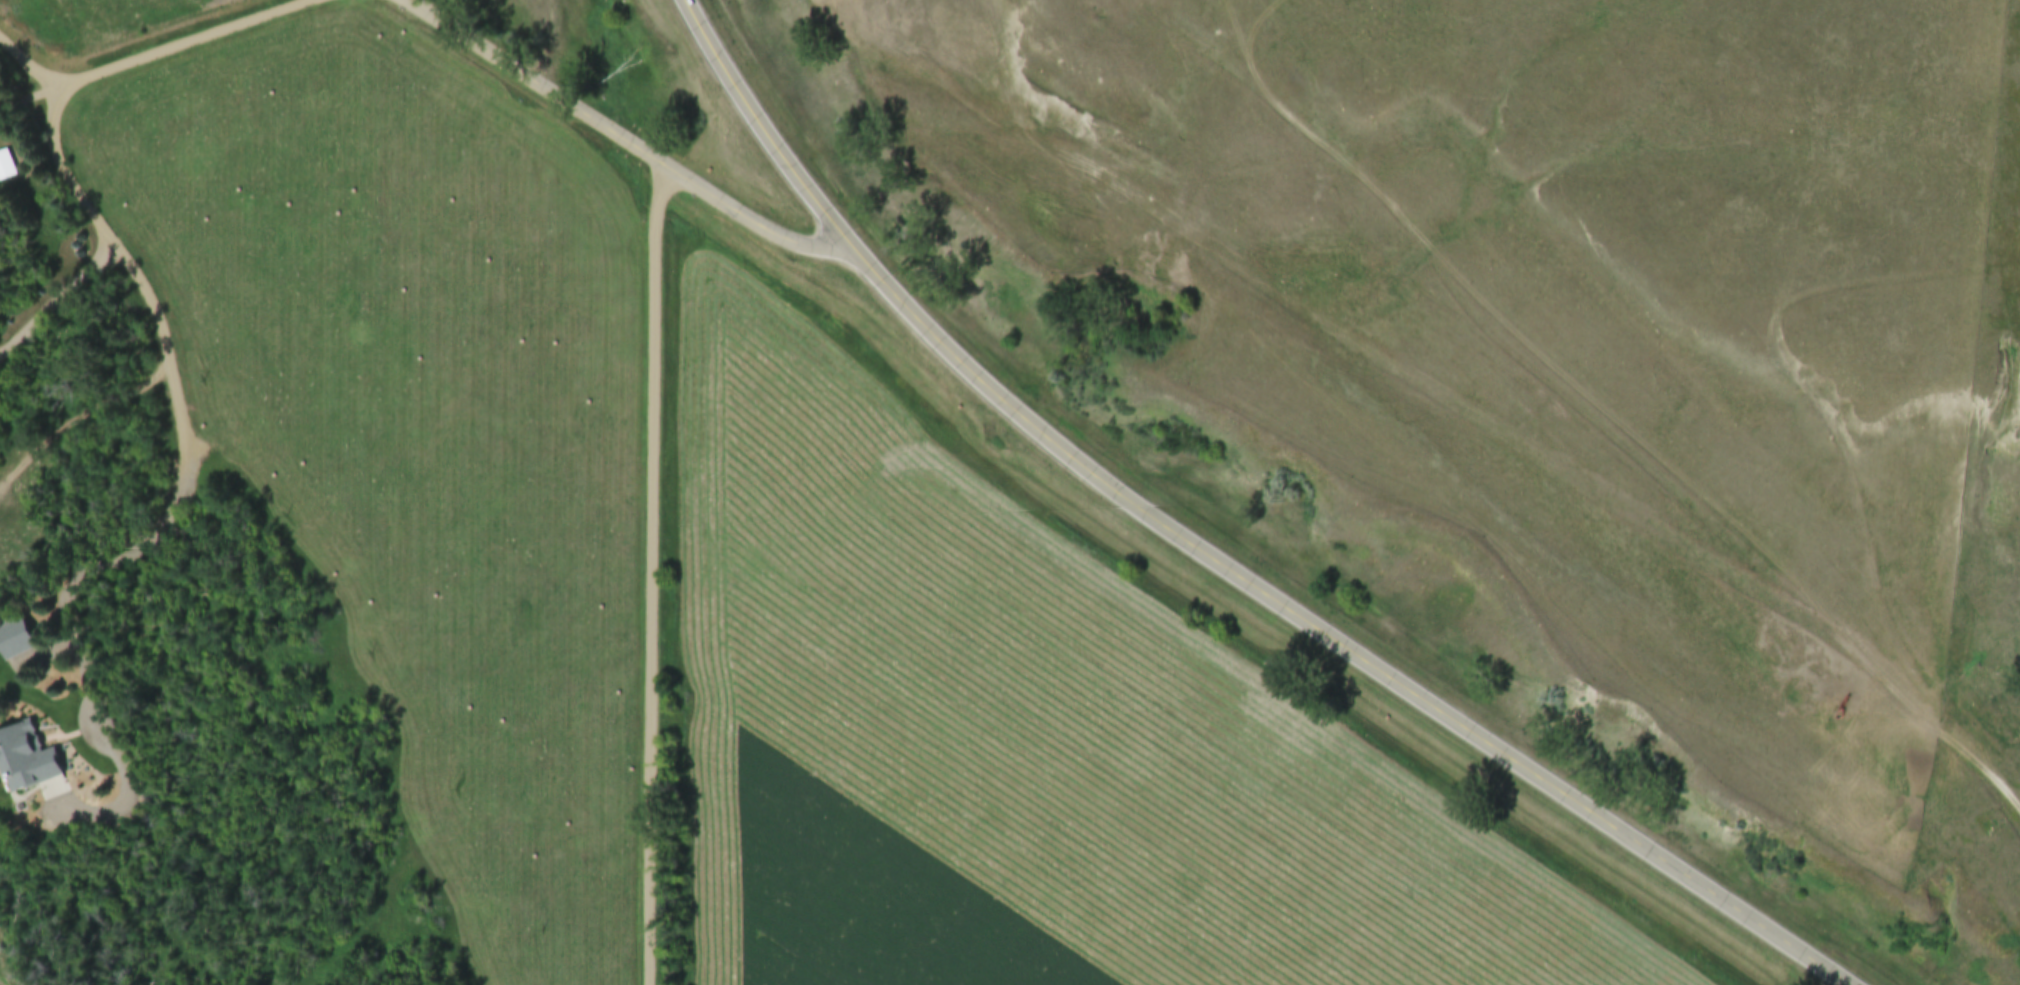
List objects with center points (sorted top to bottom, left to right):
road: (170, 53)
road: (757, 129)
road: (617, 136)
building: (6, 166)
road: (168, 353)
road: (655, 574)
road: (1316, 642)
building: (25, 758)

